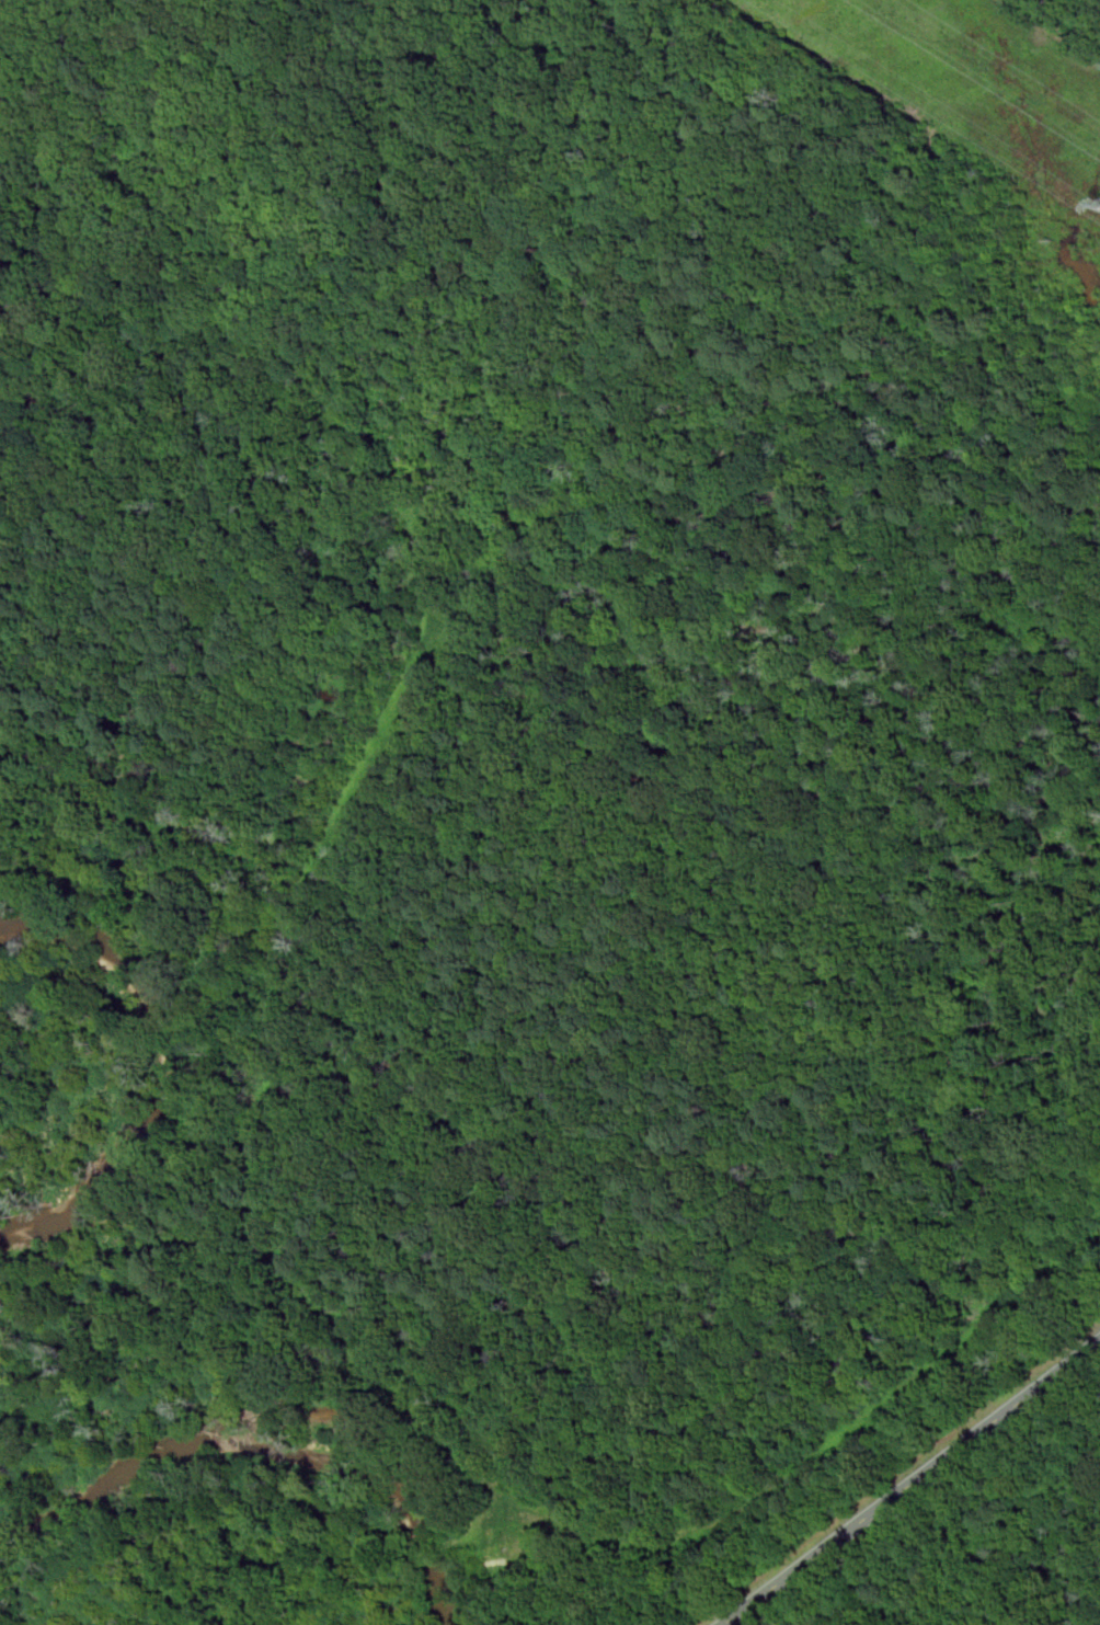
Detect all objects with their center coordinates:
park: (781, 918)
river: (176, 1069)
river: (262, 1446)
road: (912, 1483)

